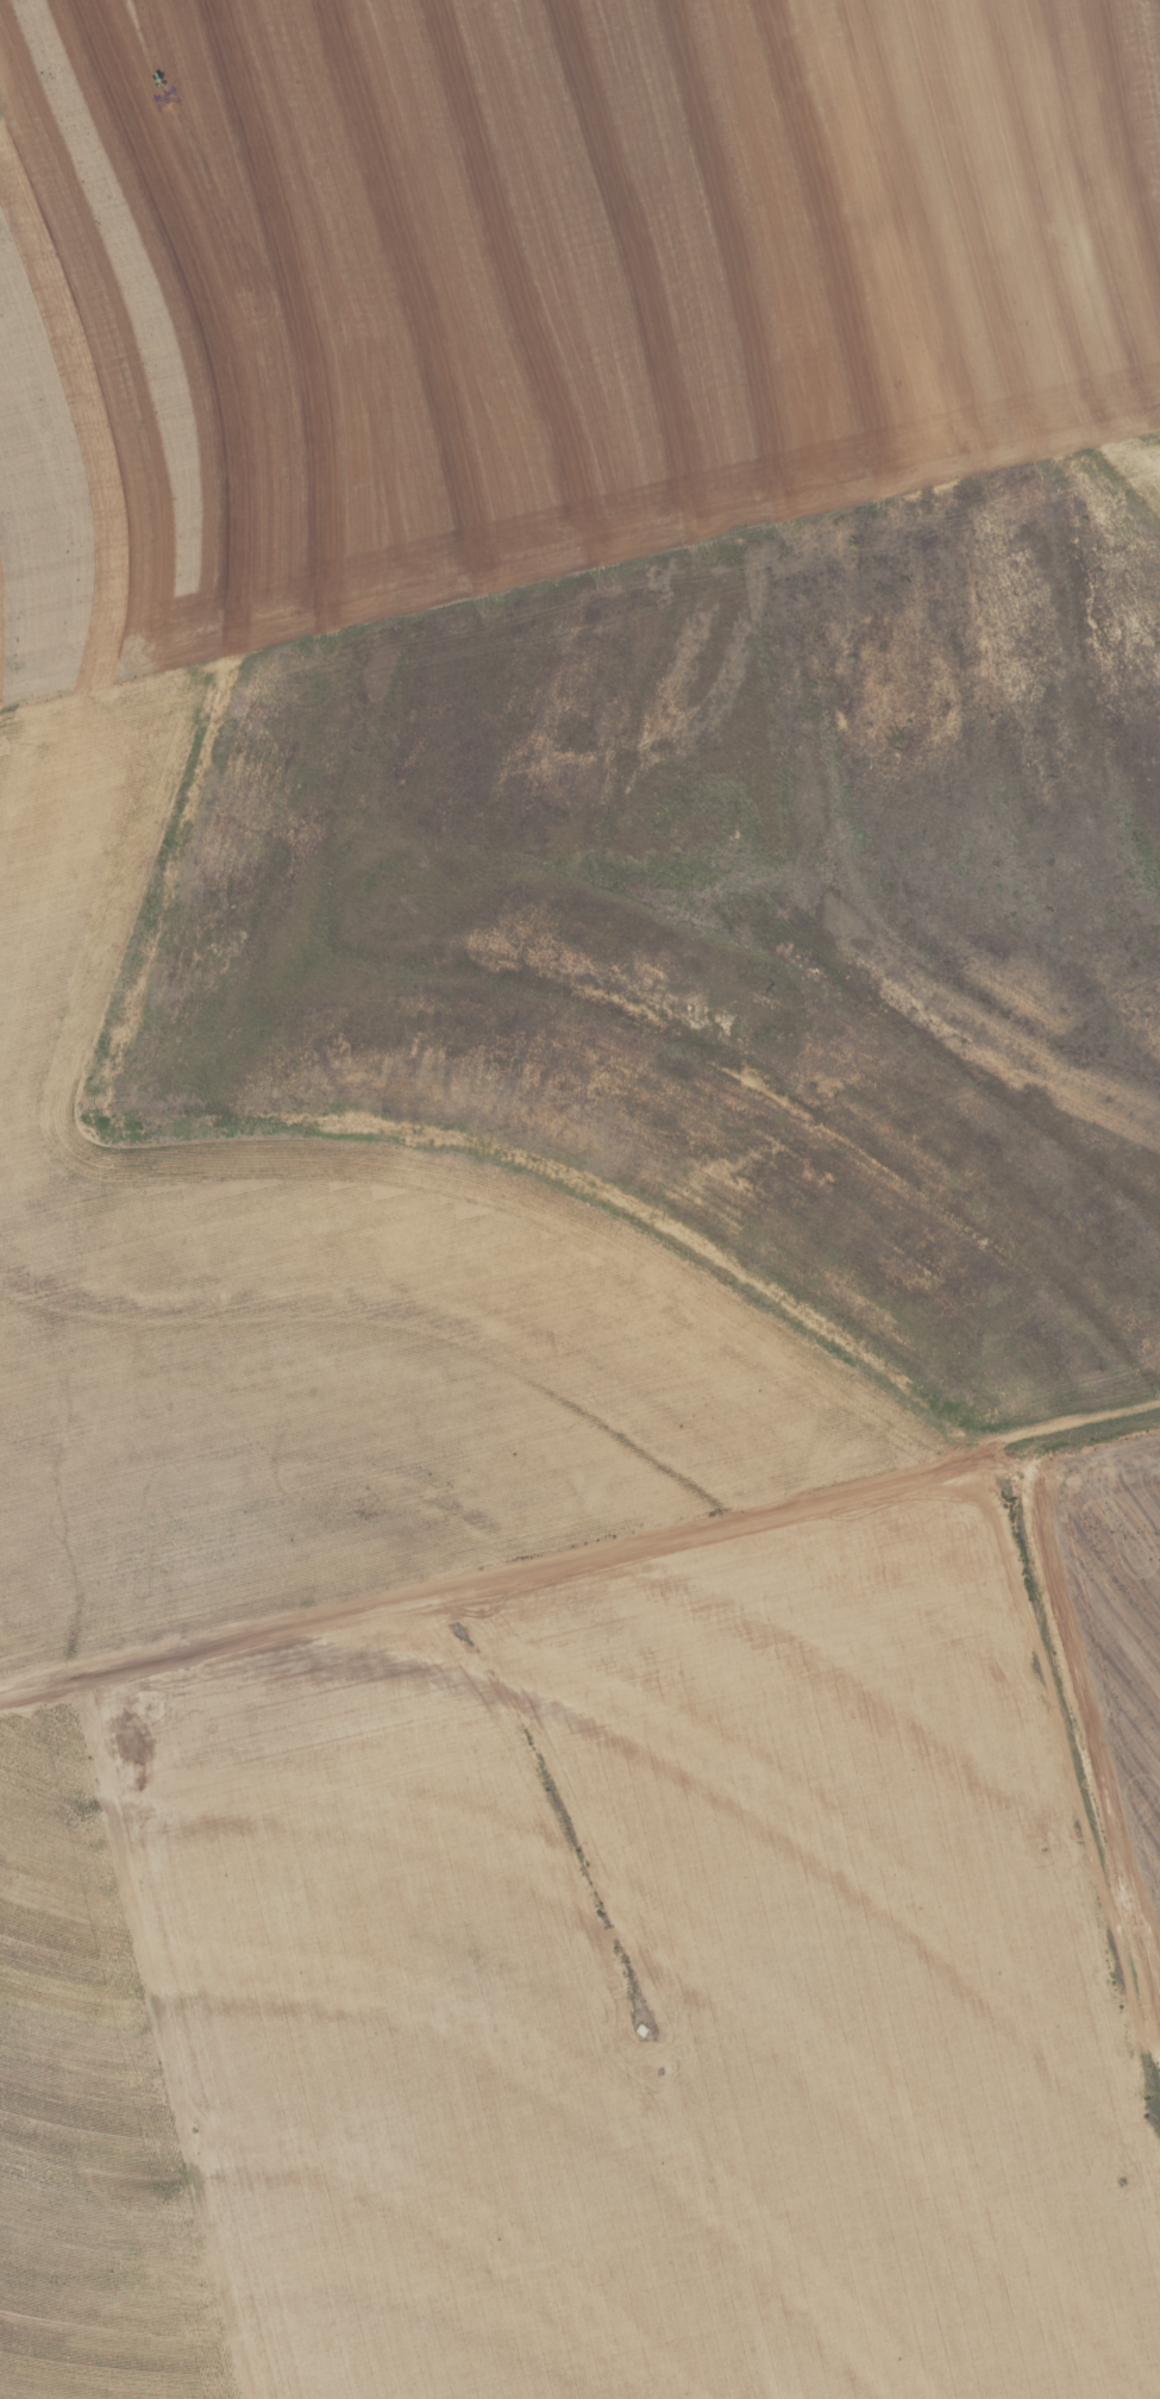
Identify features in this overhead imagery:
road: (903, 1283)
road: (579, 1592)

